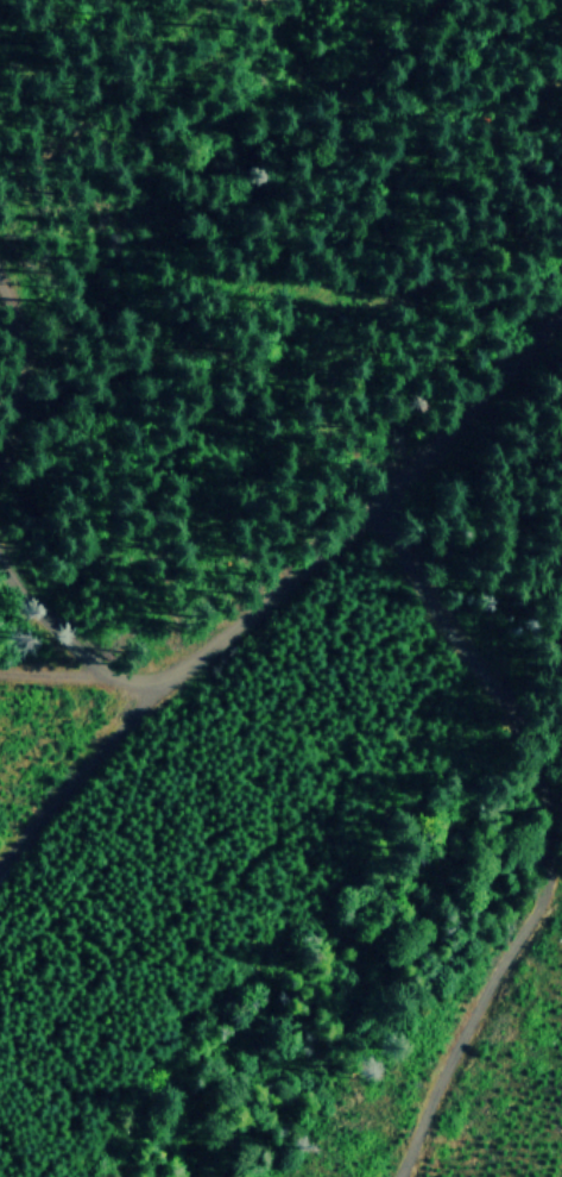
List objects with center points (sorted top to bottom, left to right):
crop: (202, 67)
road: (13, 363)
road: (293, 580)
road: (108, 672)
road: (106, 751)
road: (555, 839)

